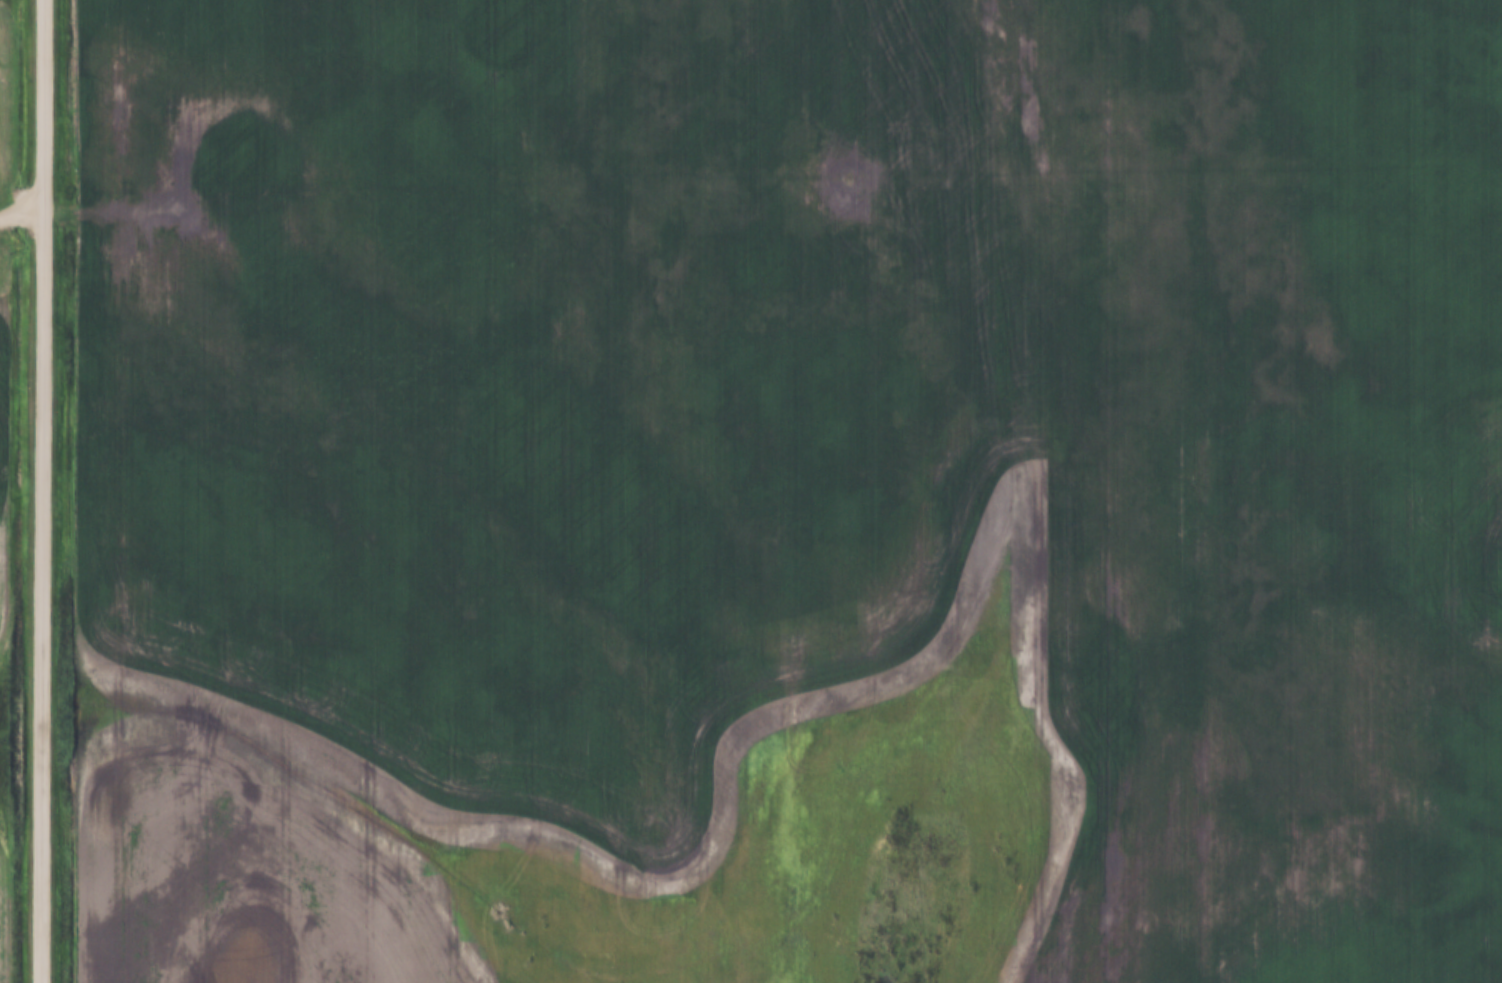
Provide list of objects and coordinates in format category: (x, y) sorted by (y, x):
road: (22, 200)
road: (41, 491)

